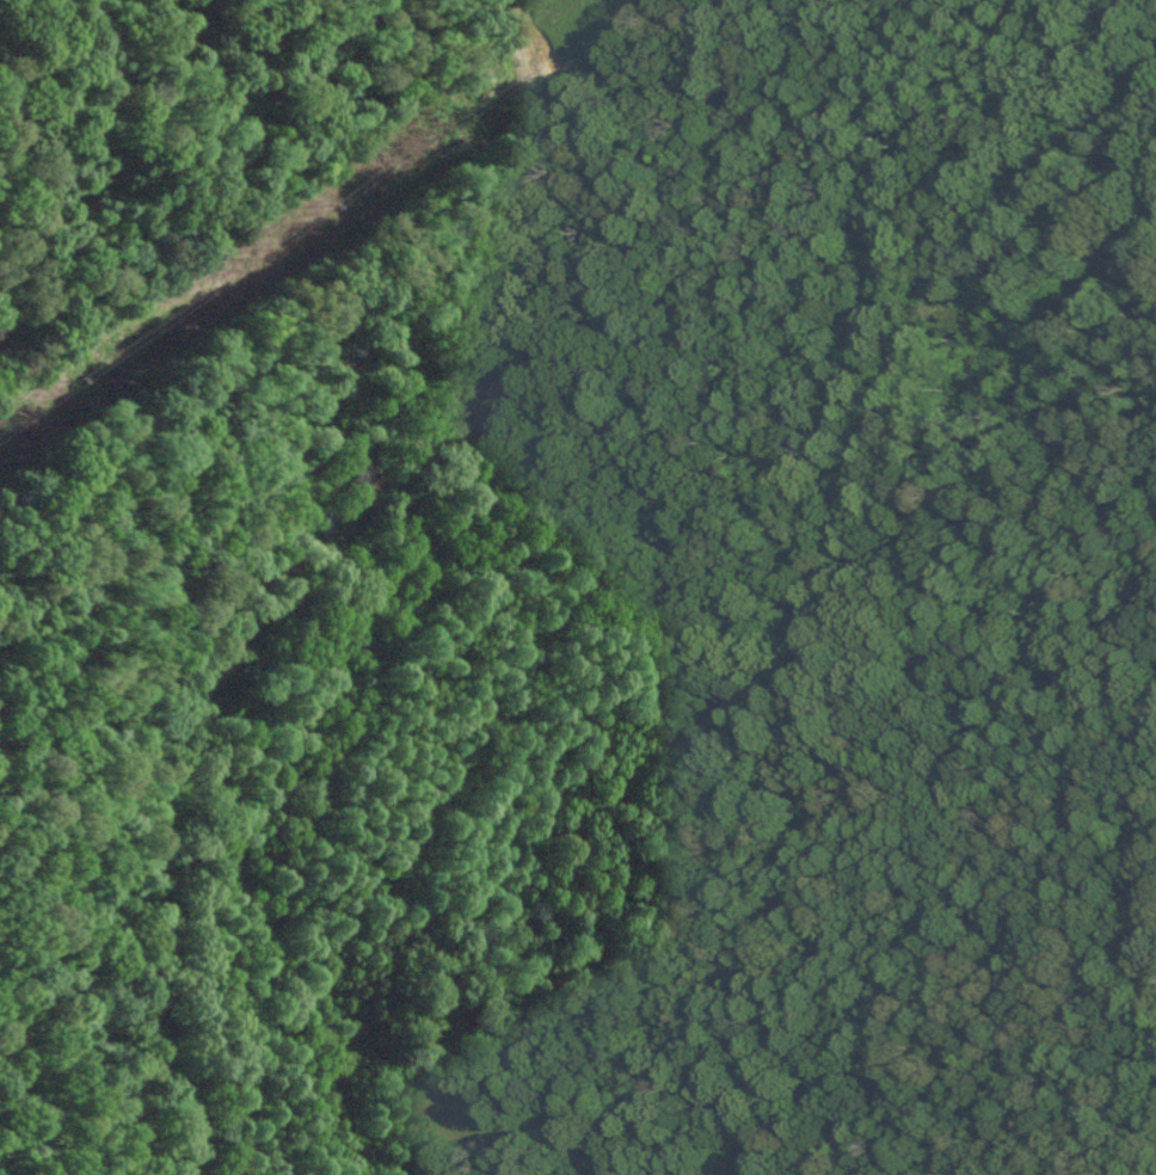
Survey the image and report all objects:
road: (828, 619)

